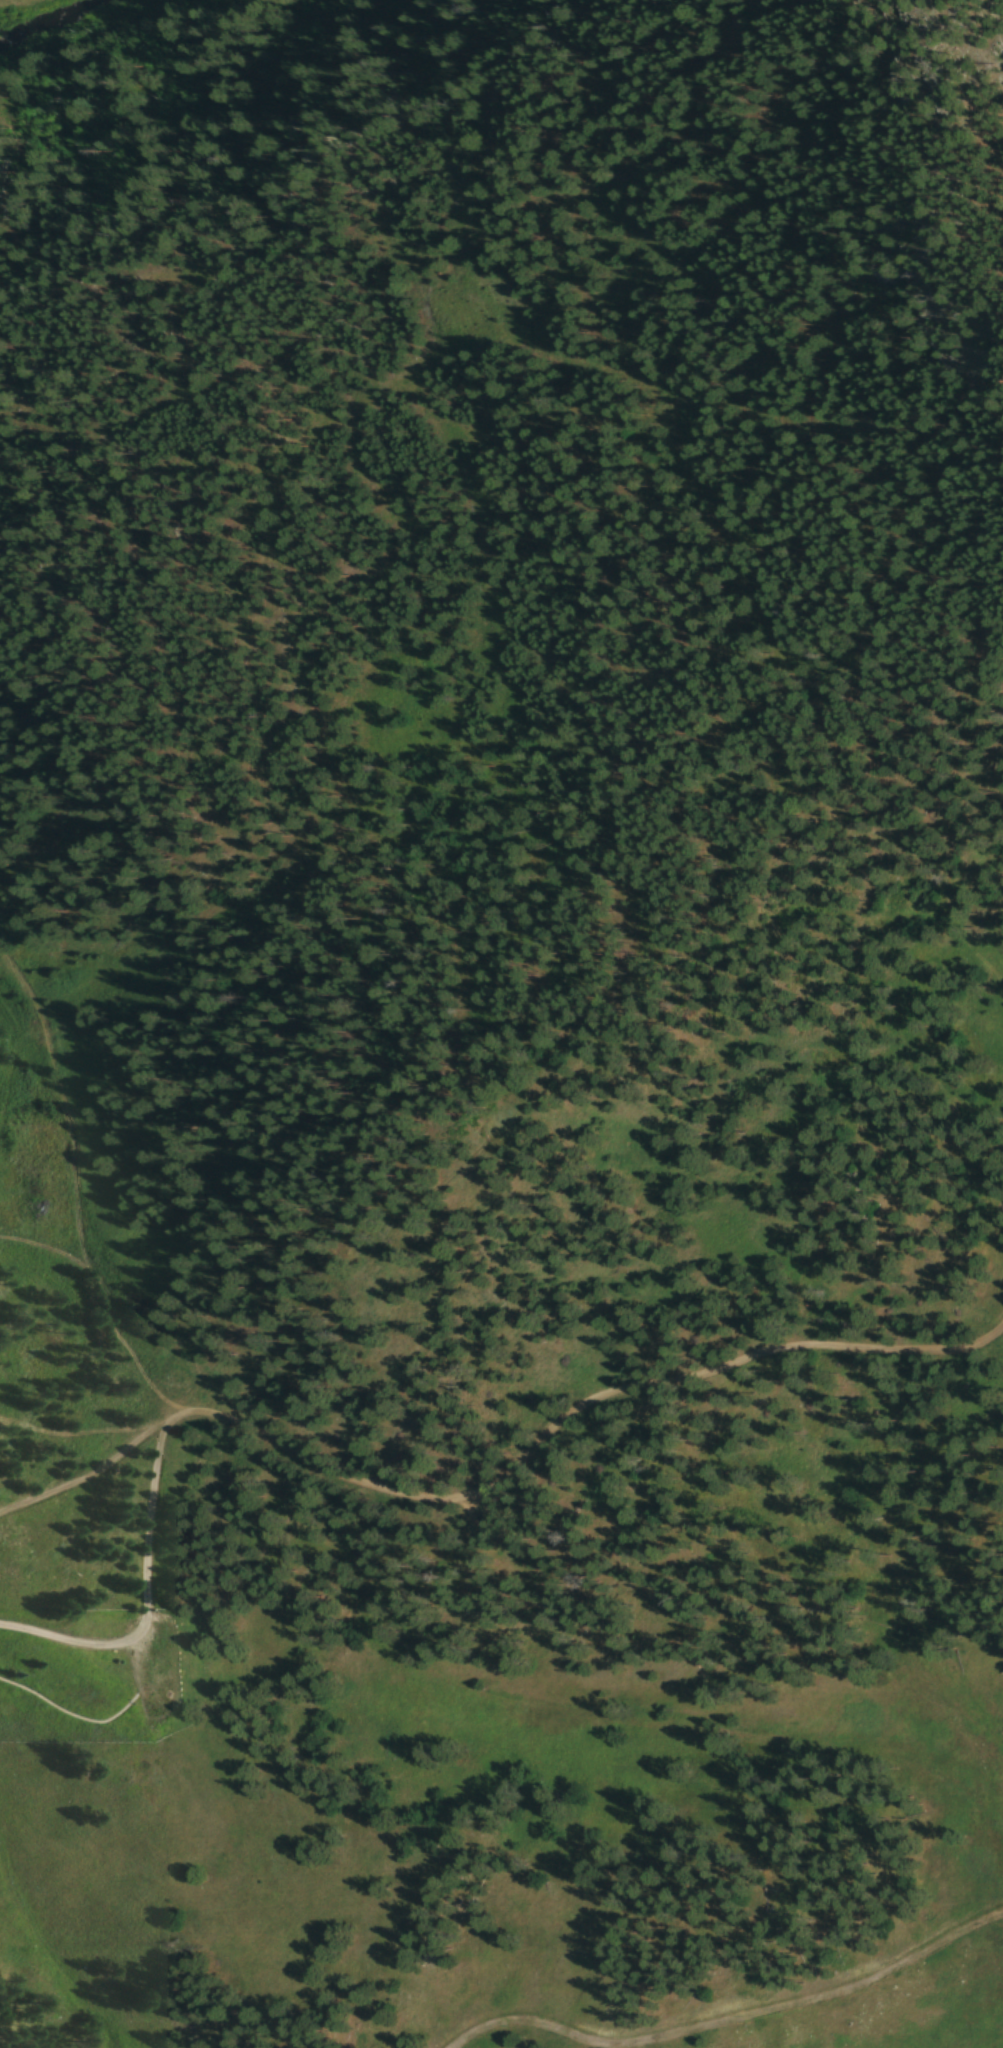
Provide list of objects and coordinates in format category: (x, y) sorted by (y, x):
road: (497, 1483)
road: (154, 1606)

